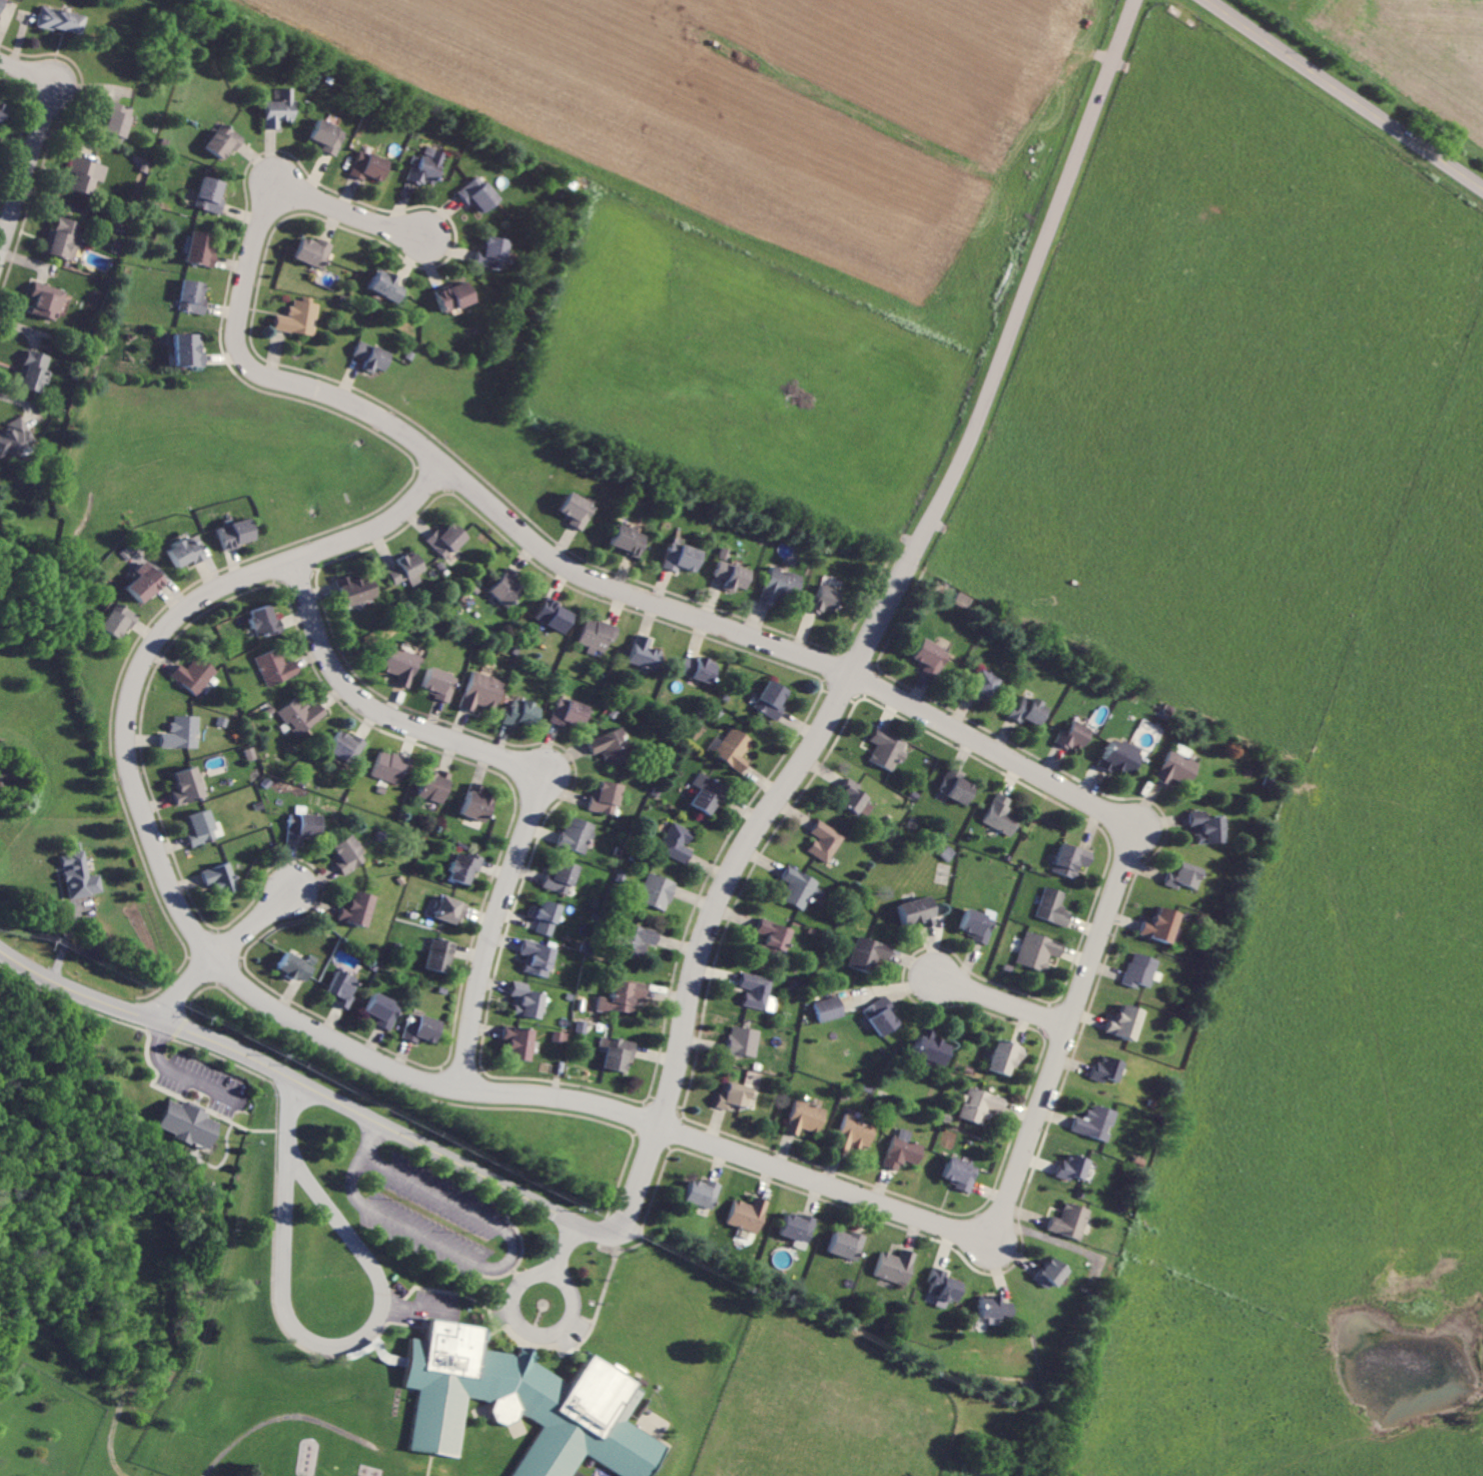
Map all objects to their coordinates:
building: (2, 5)
building: (63, 20)
road: (1345, 94)
building: (281, 109)
building: (2, 111)
building: (116, 121)
building: (329, 137)
road: (39, 140)
building: (225, 141)
building: (371, 167)
building: (429, 167)
building: (84, 174)
building: (211, 195)
building: (481, 195)
building: (62, 240)
building: (201, 250)
building: (314, 252)
building: (493, 252)
building: (387, 286)
building: (193, 297)
building: (455, 297)
building: (45, 301)
building: (301, 318)
building: (189, 350)
building: (373, 357)
building: (32, 371)
road: (408, 435)
building: (14, 438)
building: (576, 509)
building: (234, 532)
building: (447, 538)
building: (628, 539)
building: (184, 550)
building: (680, 556)
building: (407, 569)
building: (730, 571)
building: (144, 581)
building: (778, 584)
building: (506, 586)
building: (355, 588)
building: (824, 599)
building: (963, 599)
building: (554, 614)
building: (117, 620)
building: (265, 620)
road: (876, 622)
building: (597, 635)
building: (644, 653)
building: (930, 656)
building: (401, 665)
building: (277, 666)
building: (698, 668)
building: (194, 674)
building: (439, 683)
building: (983, 685)
building: (481, 690)
building: (771, 698)
building: (1028, 710)
building: (521, 712)
building: (570, 712)
building: (302, 715)
building: (182, 732)
building: (1075, 736)
building: (346, 744)
building: (611, 745)
building: (733, 748)
building: (886, 748)
building: (250, 753)
building: (1121, 756)
building: (1178, 765)
building: (392, 766)
road: (531, 768)
building: (435, 784)
building: (188, 785)
building: (956, 787)
building: (706, 793)
building: (852, 795)
building: (607, 796)
building: (477, 802)
building: (1001, 815)
building: (203, 827)
building: (303, 827)
building: (1209, 827)
building: (577, 834)
building: (825, 841)
building: (678, 842)
building: (348, 853)
building: (946, 853)
building: (1071, 859)
building: (464, 866)
road: (164, 871)
building: (80, 875)
building: (1186, 875)
building: (221, 877)
building: (561, 877)
building: (801, 888)
building: (658, 891)
building: (1054, 906)
building: (358, 908)
building: (450, 909)
building: (916, 911)
building: (548, 917)
building: (977, 923)
building: (1164, 924)
building: (774, 937)
building: (637, 939)
building: (1039, 950)
road: (222, 953)
building: (868, 953)
building: (440, 954)
building: (538, 957)
building: (296, 966)
building: (1142, 969)
building: (342, 988)
building: (759, 991)
building: (624, 996)
road: (999, 1000)
building: (527, 1001)
road: (72, 1003)
building: (829, 1008)
building: (381, 1010)
building: (882, 1016)
building: (1127, 1022)
building: (421, 1028)
road: (162, 1035)
building: (560, 1036)
building: (519, 1041)
building: (744, 1041)
road: (1061, 1047)
building: (931, 1050)
building: (619, 1054)
building: (1006, 1056)
building: (1108, 1069)
road: (182, 1074)
road: (306, 1085)
building: (734, 1095)
building: (980, 1105)
building: (806, 1117)
building: (1096, 1122)
building: (189, 1124)
building: (855, 1134)
building: (903, 1149)
building: (1073, 1167)
building: (961, 1173)
road: (277, 1186)
building: (703, 1193)
building: (749, 1214)
building: (1070, 1221)
building: (799, 1227)
building: (848, 1245)
road: (568, 1248)
road: (484, 1263)
building: (895, 1266)
building: (1051, 1273)
building: (943, 1287)
building: (994, 1308)
road: (420, 1309)
road: (515, 1314)
road: (396, 1322)
road: (310, 1339)
road: (362, 1348)
building: (523, 1404)
road: (283, 1417)
road: (430, 1464)

